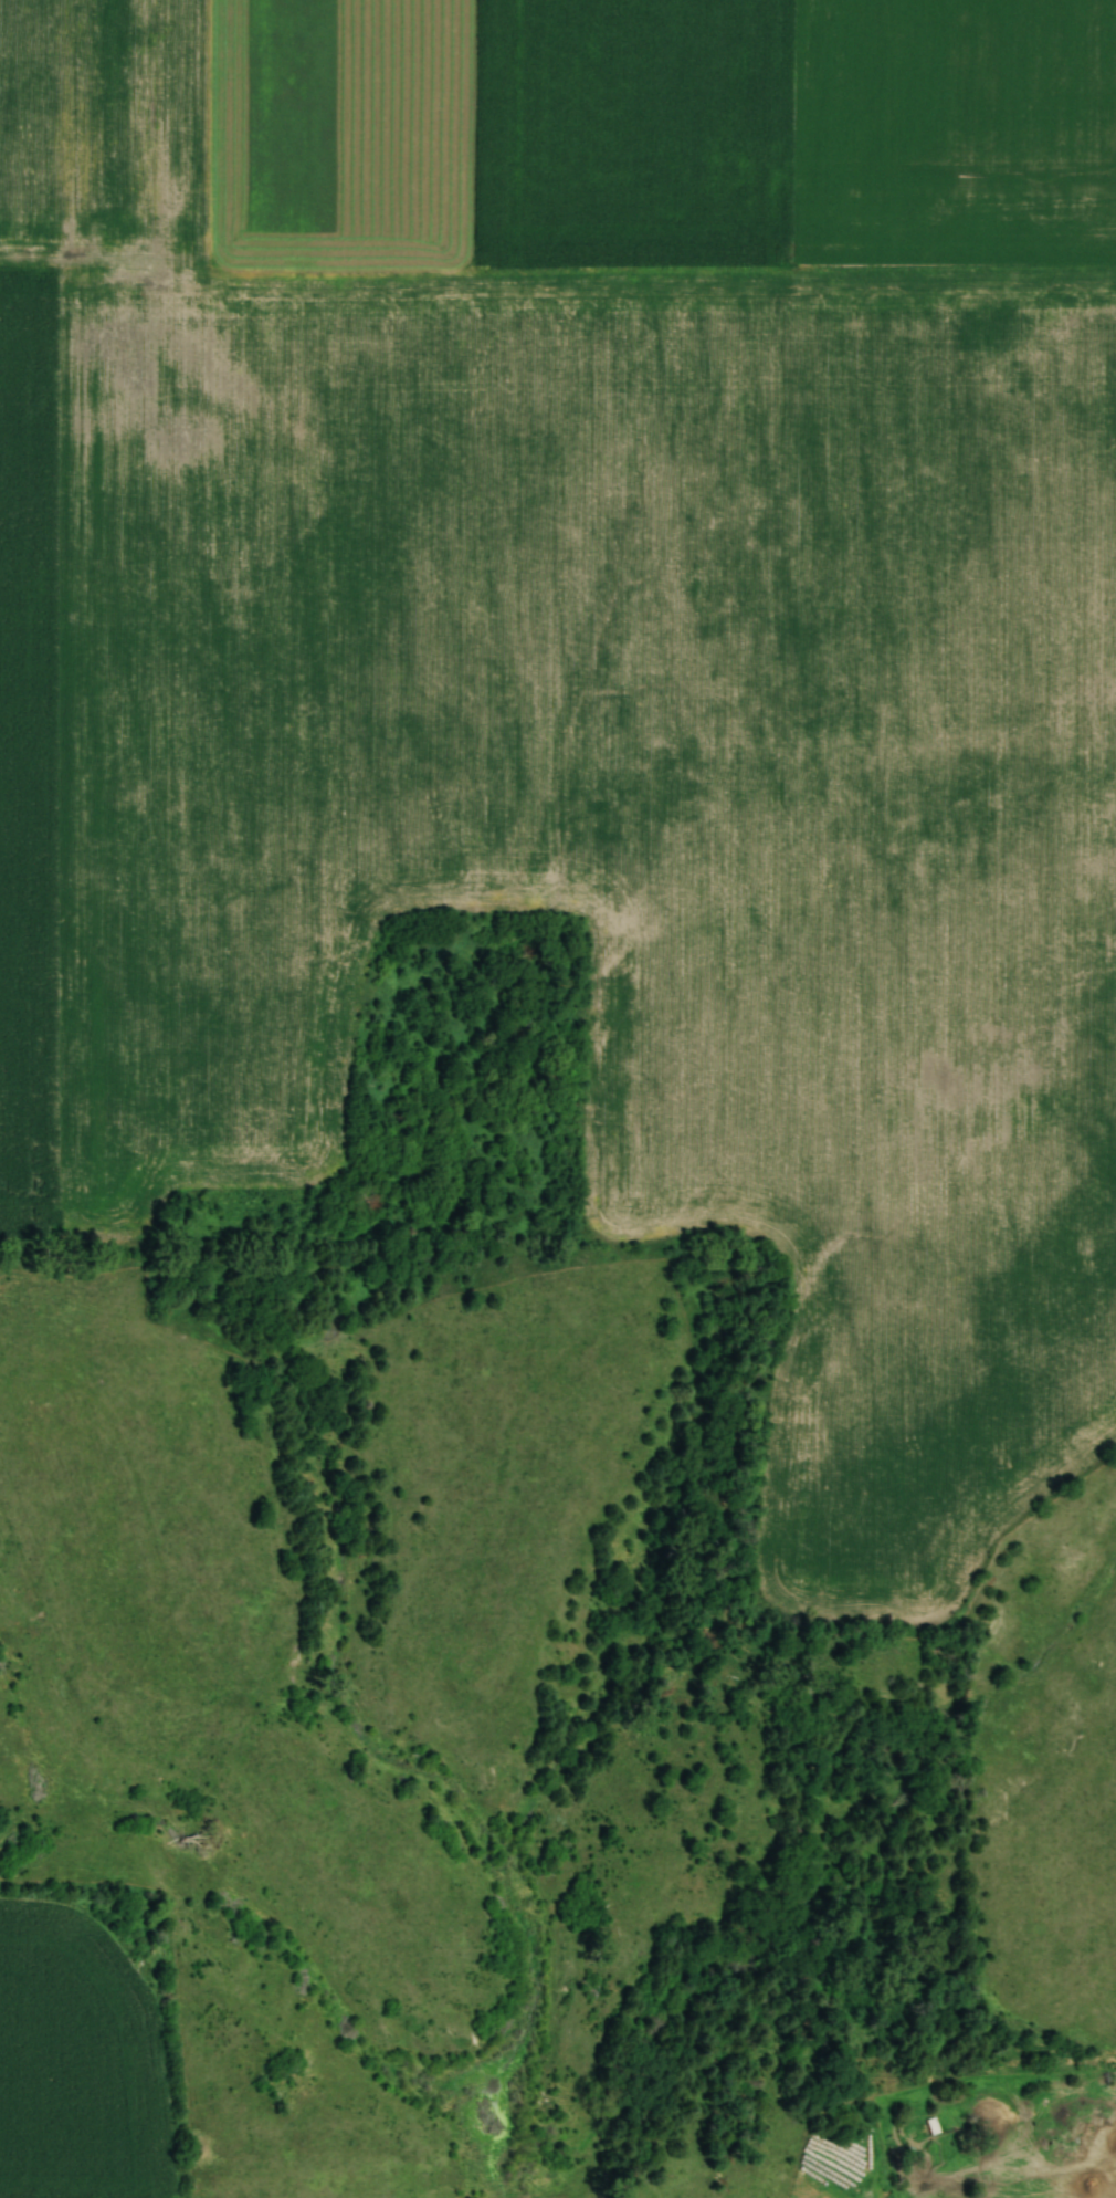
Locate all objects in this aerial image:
building: (933, 2126)

